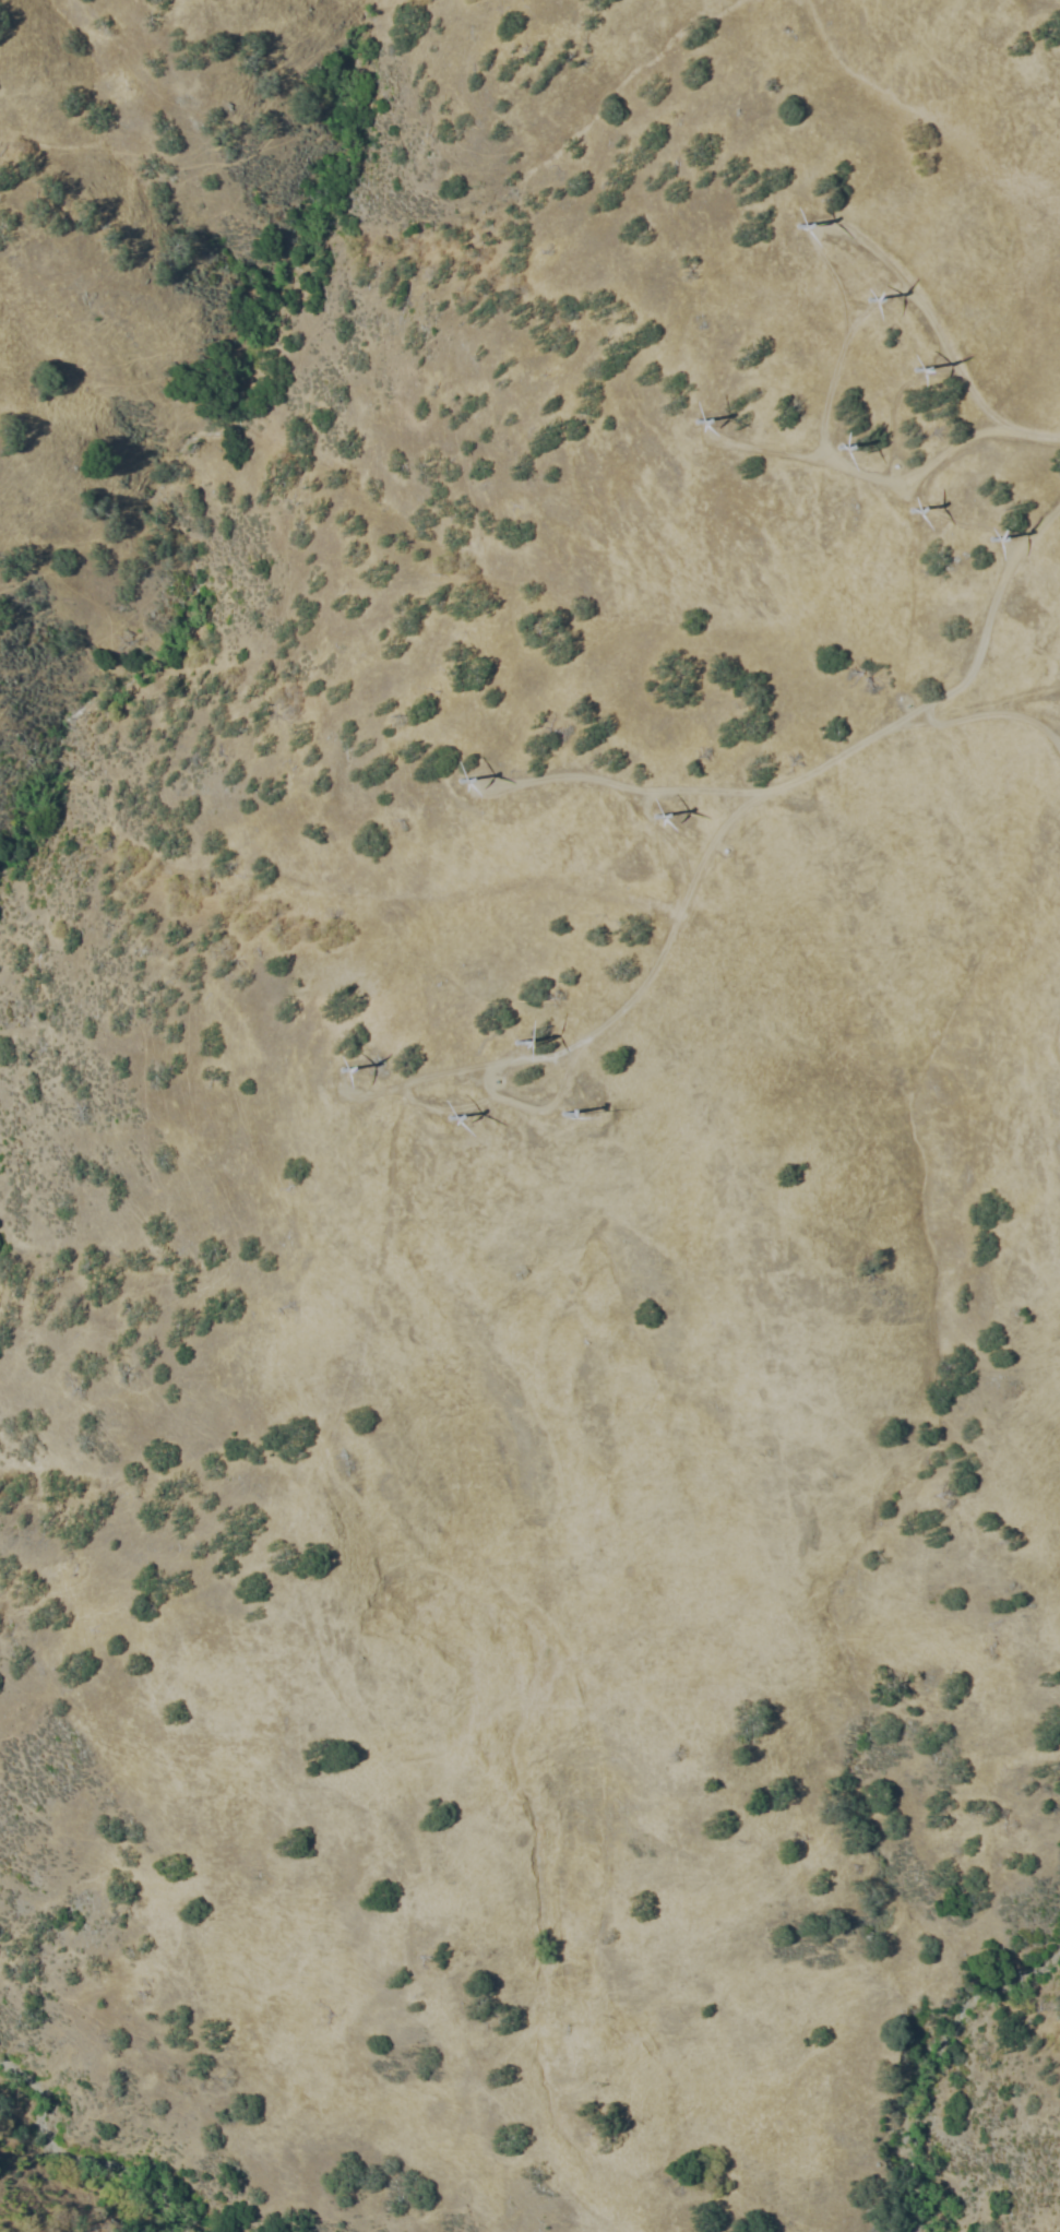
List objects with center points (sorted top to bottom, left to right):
wind turbine: (794, 226)
road: (841, 229)
wind turbine: (861, 300)
wind turbine: (916, 370)
wind turbine: (693, 427)
wind turbine: (831, 462)
road: (894, 482)
wind turbine: (905, 510)
road: (952, 520)
wind turbine: (981, 545)
road: (995, 711)
wind turbine: (451, 781)
road: (622, 783)
wind turbine: (652, 812)
road: (716, 833)
road: (1051, 1040)
wind turbine: (516, 1041)
wind turbine: (340, 1068)
road: (536, 1106)
wind turbine: (563, 1113)
wind turbine: (449, 1117)
road: (1053, 1150)
wind turbine: (1059, 1163)

